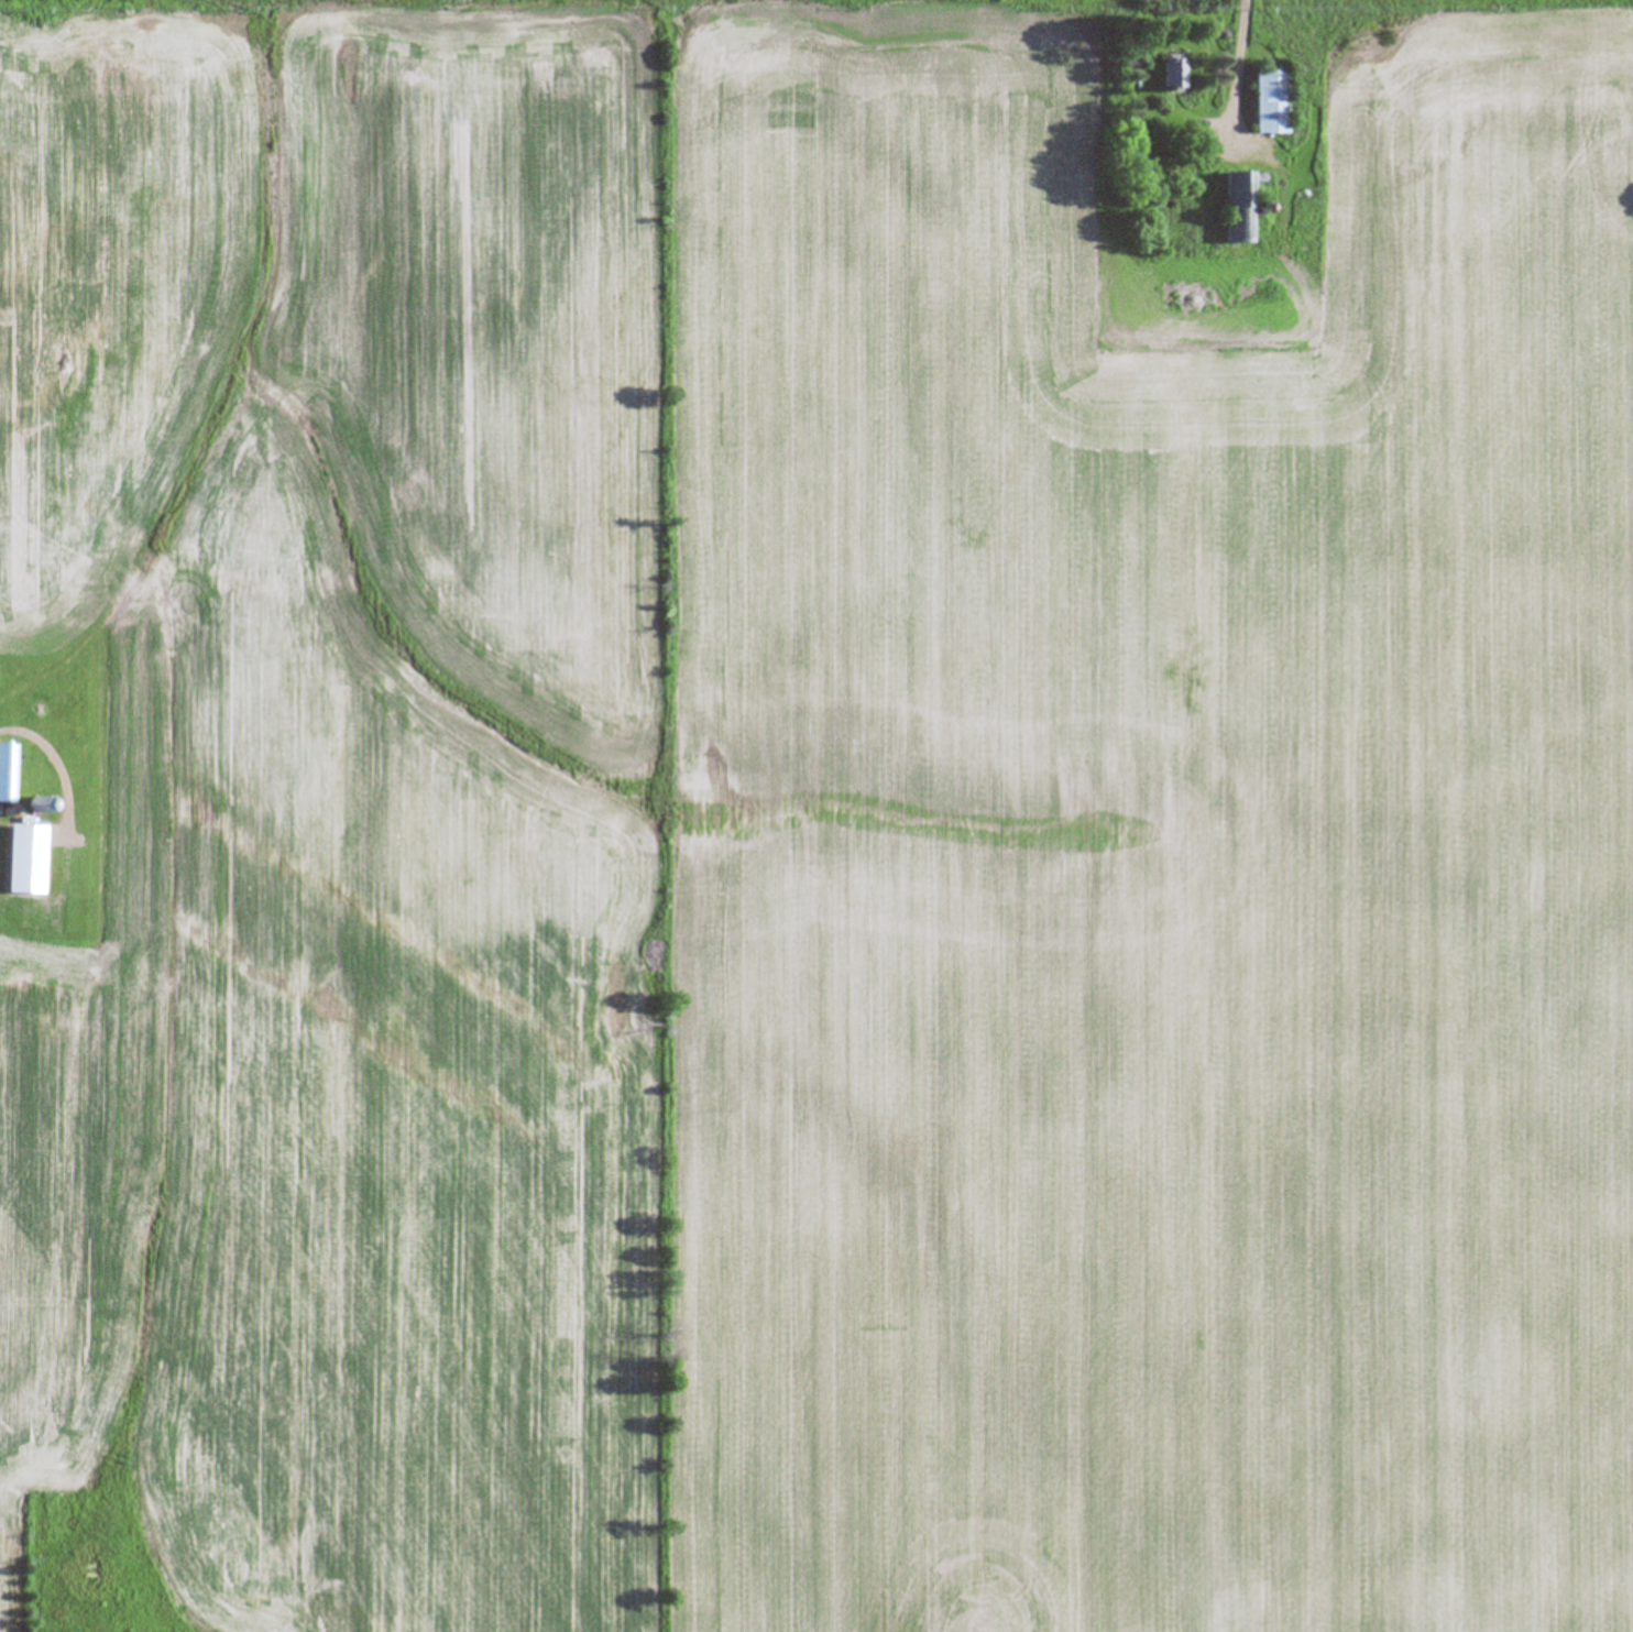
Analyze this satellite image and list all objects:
building: (1172, 75)
building: (1267, 102)
building: (1236, 208)
building: (6, 776)

